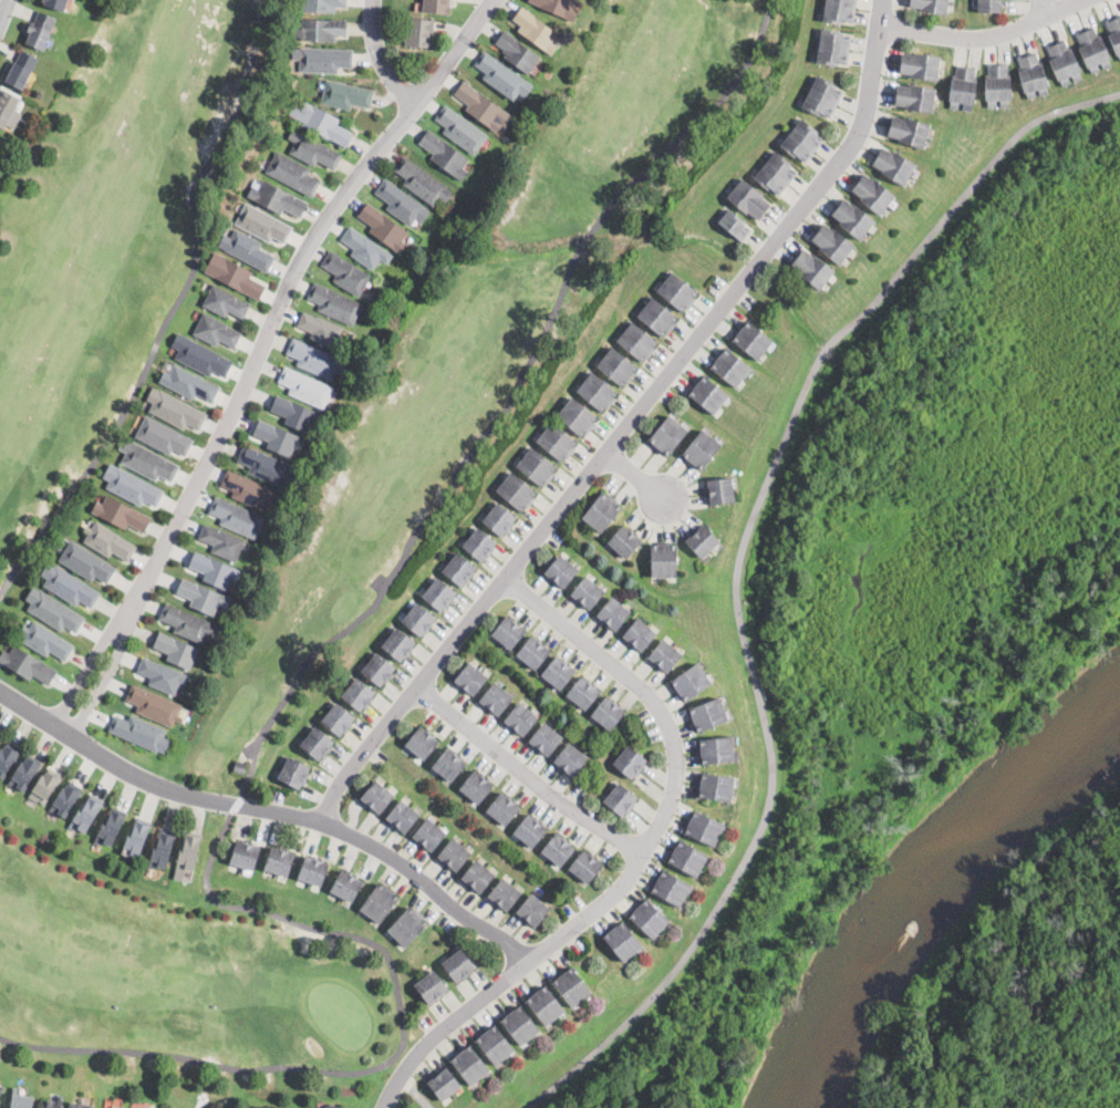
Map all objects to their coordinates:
building: (991, 0)
building: (56, 3)
building: (322, 4)
building: (437, 7)
building: (558, 7)
building: (931, 7)
building: (991, 7)
road: (1045, 9)
road: (4, 10)
building: (839, 10)
building: (1117, 21)
building: (40, 30)
building: (321, 30)
building: (536, 30)
building: (419, 32)
building: (1113, 34)
road: (987, 37)
building: (1097, 46)
building: (834, 48)
building: (1086, 51)
building: (518, 53)
road: (382, 58)
building: (322, 59)
building: (1068, 59)
building: (1057, 64)
building: (920, 65)
building: (20, 70)
building: (1037, 73)
building: (499, 74)
building: (1025, 76)
building: (991, 84)
building: (1003, 85)
building: (956, 86)
building: (968, 89)
building: (345, 94)
building: (914, 97)
building: (822, 99)
building: (7, 106)
building: (483, 106)
road: (689, 122)
building: (323, 123)
building: (460, 130)
building: (908, 131)
building: (802, 142)
building: (312, 149)
building: (445, 154)
building: (893, 165)
building: (292, 172)
building: (777, 174)
building: (423, 182)
building: (872, 194)
building: (277, 198)
building: (749, 200)
building: (398, 201)
building: (853, 219)
park: (113, 222)
building: (262, 224)
building: (735, 226)
building: (384, 227)
road: (582, 241)
building: (832, 244)
building: (363, 248)
building: (248, 250)
building: (812, 269)
building: (345, 272)
building: (237, 277)
parking lot: (715, 287)
building: (677, 291)
building: (225, 301)
parking lot: (745, 301)
building: (334, 303)
road: (172, 308)
road: (281, 308)
building: (657, 317)
building: (320, 329)
building: (216, 331)
building: (753, 340)
building: (637, 341)
building: (203, 358)
building: (314, 359)
building: (616, 366)
building: (729, 367)
building: (188, 383)
building: (305, 386)
building: (597, 391)
building: (707, 394)
parking lot: (668, 396)
building: (175, 410)
building: (297, 413)
building: (577, 416)
road: (632, 423)
building: (667, 435)
building: (163, 436)
building: (276, 437)
building: (556, 441)
building: (701, 449)
building: (147, 460)
building: (265, 465)
building: (537, 466)
building: (676, 466)
road: (637, 476)
building: (132, 486)
building: (248, 490)
building: (516, 490)
building: (719, 490)
building: (601, 512)
building: (121, 514)
building: (237, 517)
building: (499, 519)
building: (702, 540)
building: (108, 541)
building: (624, 541)
building: (222, 542)
building: (479, 543)
building: (663, 560)
building: (86, 562)
road: (738, 567)
building: (212, 569)
building: (458, 569)
building: (561, 570)
park: (902, 572)
building: (69, 586)
building: (587, 591)
building: (439, 593)
park: (364, 594)
building: (199, 596)
building: (53, 610)
building: (613, 613)
building: (418, 619)
building: (187, 622)
building: (508, 632)
building: (639, 634)
building: (45, 640)
building: (398, 644)
building: (177, 650)
building: (532, 652)
building: (664, 655)
building: (27, 664)
building: (378, 669)
building: (557, 672)
road: (82, 674)
building: (163, 675)
building: (470, 679)
building: (689, 682)
road: (95, 691)
building: (582, 692)
building: (357, 694)
building: (496, 698)
building: (155, 705)
building: (608, 713)
building: (707, 715)
building: (338, 718)
building: (520, 718)
building: (138, 731)
building: (0, 736)
building: (545, 738)
building: (317, 743)
building: (422, 743)
building: (716, 749)
parking lot: (377, 757)
building: (7, 758)
building: (570, 759)
building: (630, 762)
road: (677, 763)
building: (448, 764)
building: (240, 767)
building: (293, 772)
building: (24, 773)
road: (526, 776)
building: (45, 786)
building: (475, 786)
building: (715, 786)
parking lot: (277, 796)
building: (377, 796)
building: (65, 798)
building: (620, 799)
building: (502, 808)
road: (271, 810)
building: (86, 814)
building: (402, 815)
building: (110, 827)
building: (703, 828)
building: (530, 830)
building: (429, 833)
building: (137, 837)
building: (162, 849)
building: (557, 849)
building: (188, 851)
building: (454, 853)
building: (245, 855)
building: (687, 858)
building: (279, 861)
road: (208, 864)
building: (585, 866)
building: (651, 868)
building: (313, 870)
building: (477, 876)
building: (346, 886)
building: (671, 888)
building: (505, 893)
river: (938, 897)
building: (378, 902)
building: (532, 909)
building: (649, 918)
parking lot: (444, 921)
building: (407, 925)
parking lot: (573, 940)
building: (622, 942)
building: (458, 965)
building: (431, 986)
building: (571, 986)
building: (546, 1005)
parking lot: (424, 1021)
building: (520, 1025)
road: (449, 1027)
building: (495, 1045)
building: (469, 1065)
building: (444, 1084)
building: (1, 1089)
road: (417, 1091)
building: (21, 1099)
building: (52, 1102)
building: (81, 1105)
building: (103, 1107)
building: (116, 1107)
building: (339, 1107)

